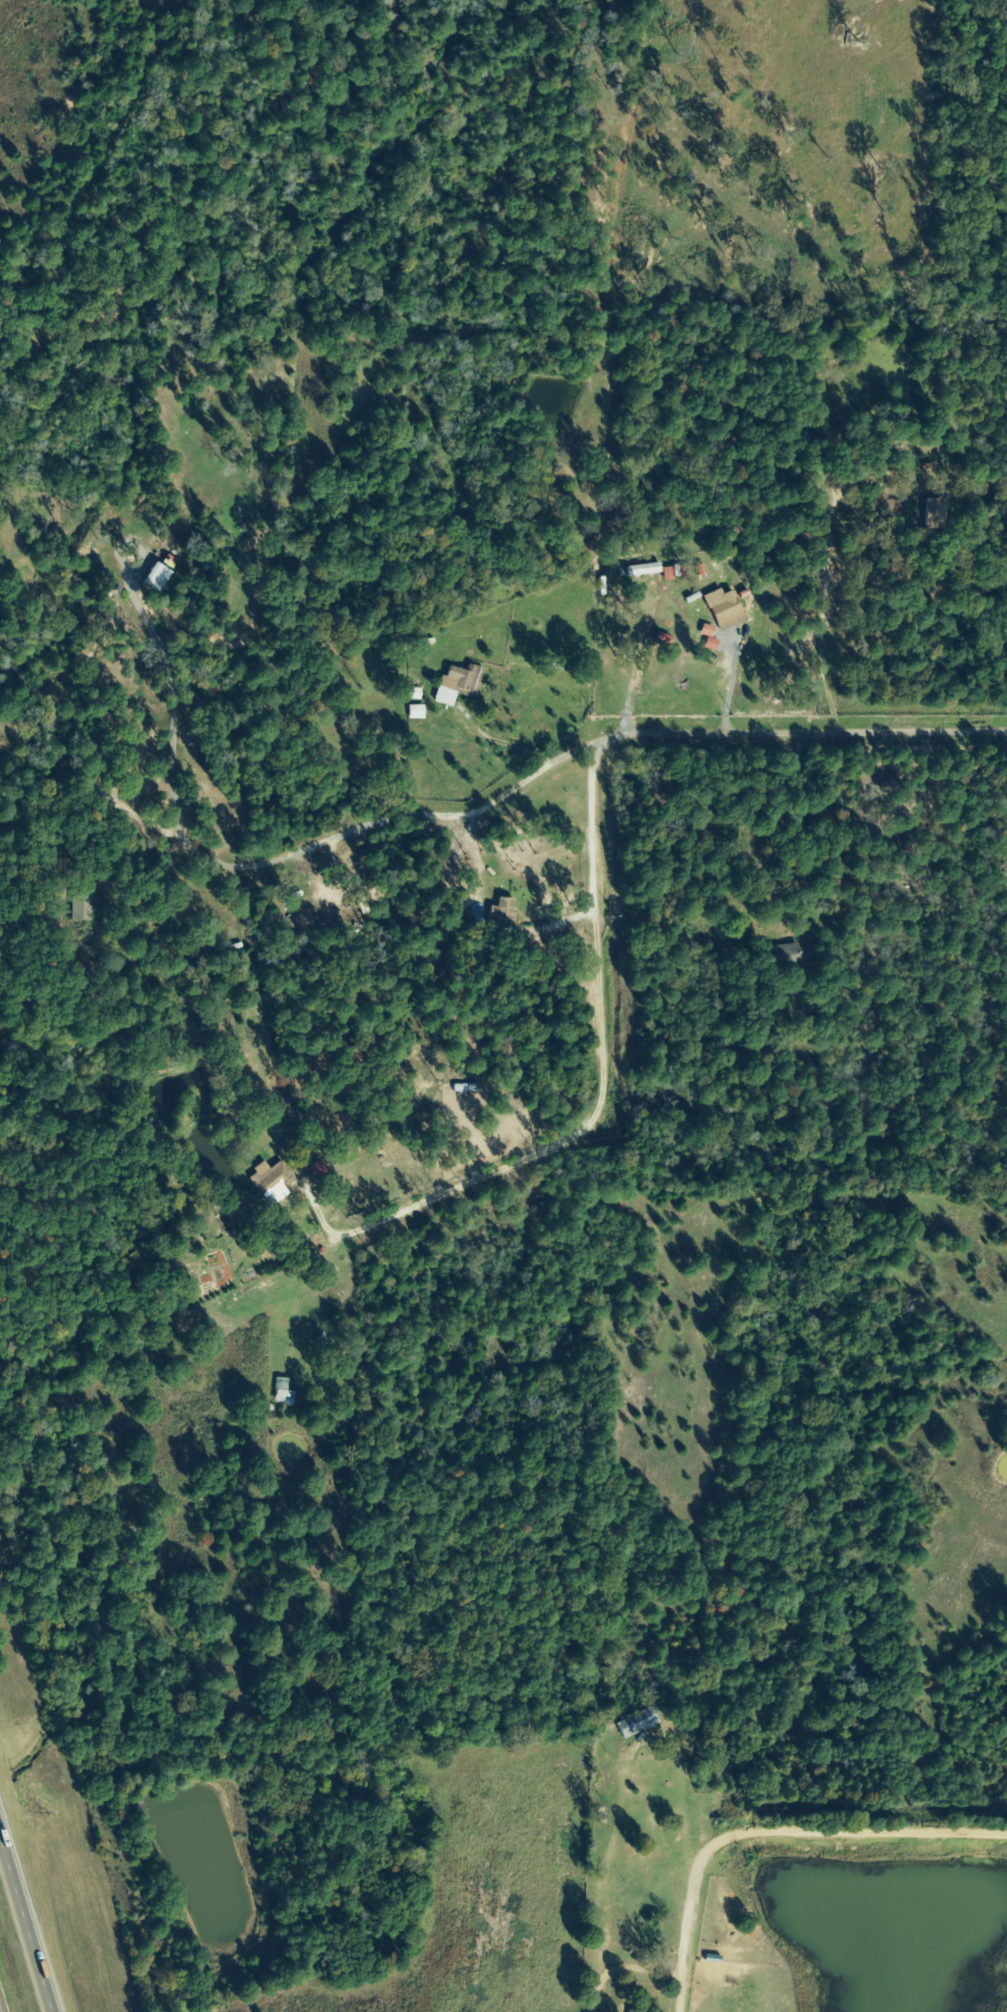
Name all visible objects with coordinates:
road: (7, 42)
road: (955, 565)
building: (700, 570)
building: (163, 573)
building: (667, 574)
building: (723, 610)
building: (708, 639)
building: (455, 685)
building: (415, 713)
road: (466, 811)
building: (79, 908)
building: (500, 914)
building: (783, 923)
road: (610, 941)
building: (783, 955)
building: (270, 1176)
road: (318, 1290)
building: (283, 1393)
building: (638, 1723)
road: (771, 1831)
road: (26, 1924)

